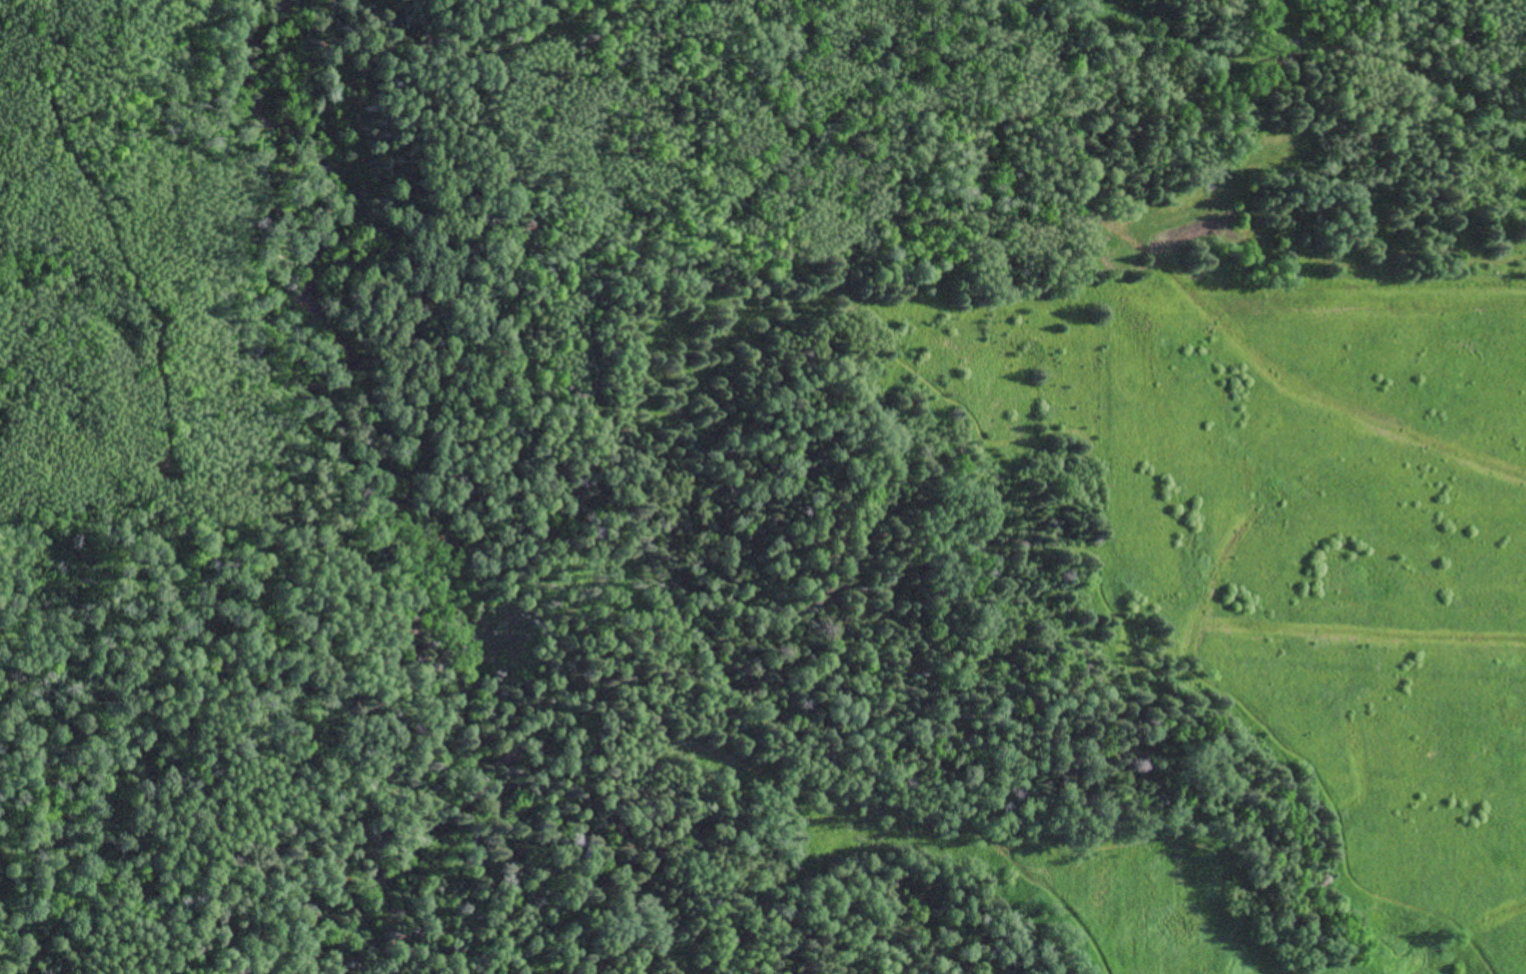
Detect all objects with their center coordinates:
crop: (1347, 553)

